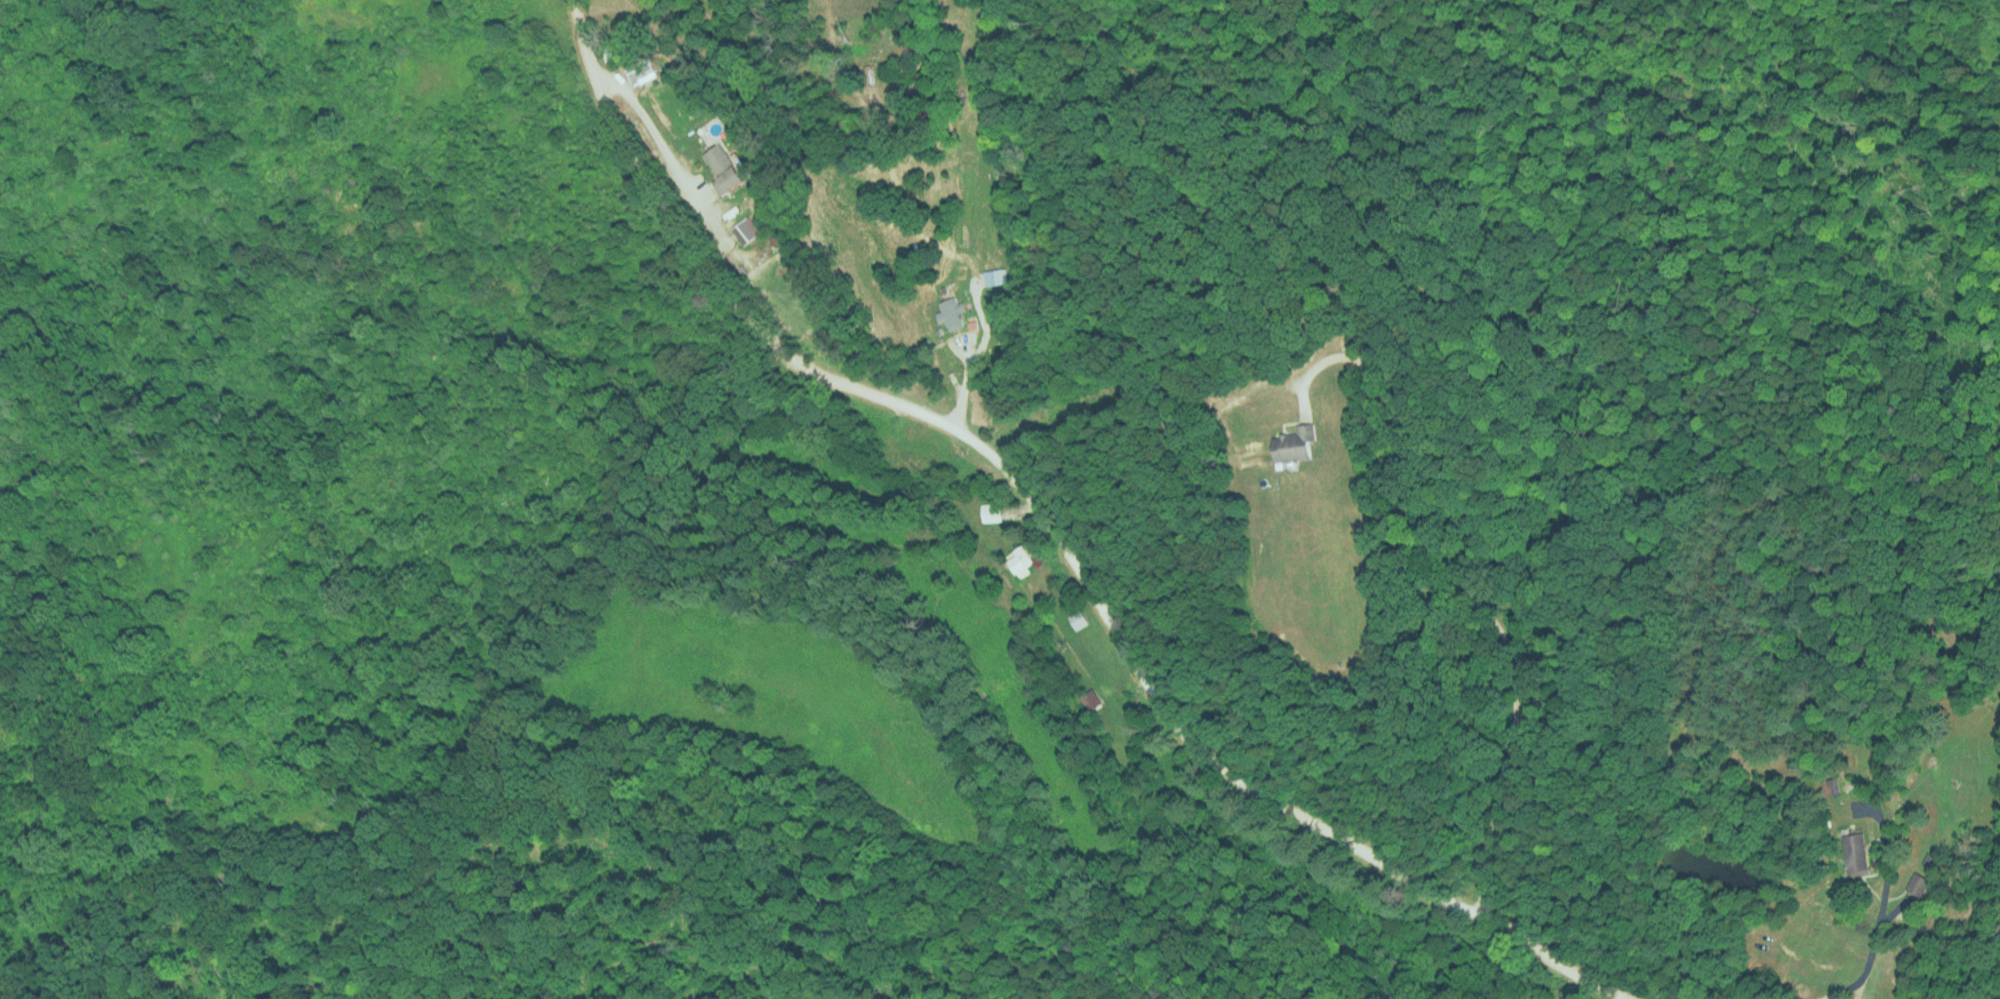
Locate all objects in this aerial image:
building: (721, 166)
building: (946, 313)
building: (1291, 443)
building: (988, 511)
road: (1042, 553)
building: (1019, 558)
road: (1476, 596)
building: (1075, 619)
building: (1854, 854)
building: (1915, 884)

